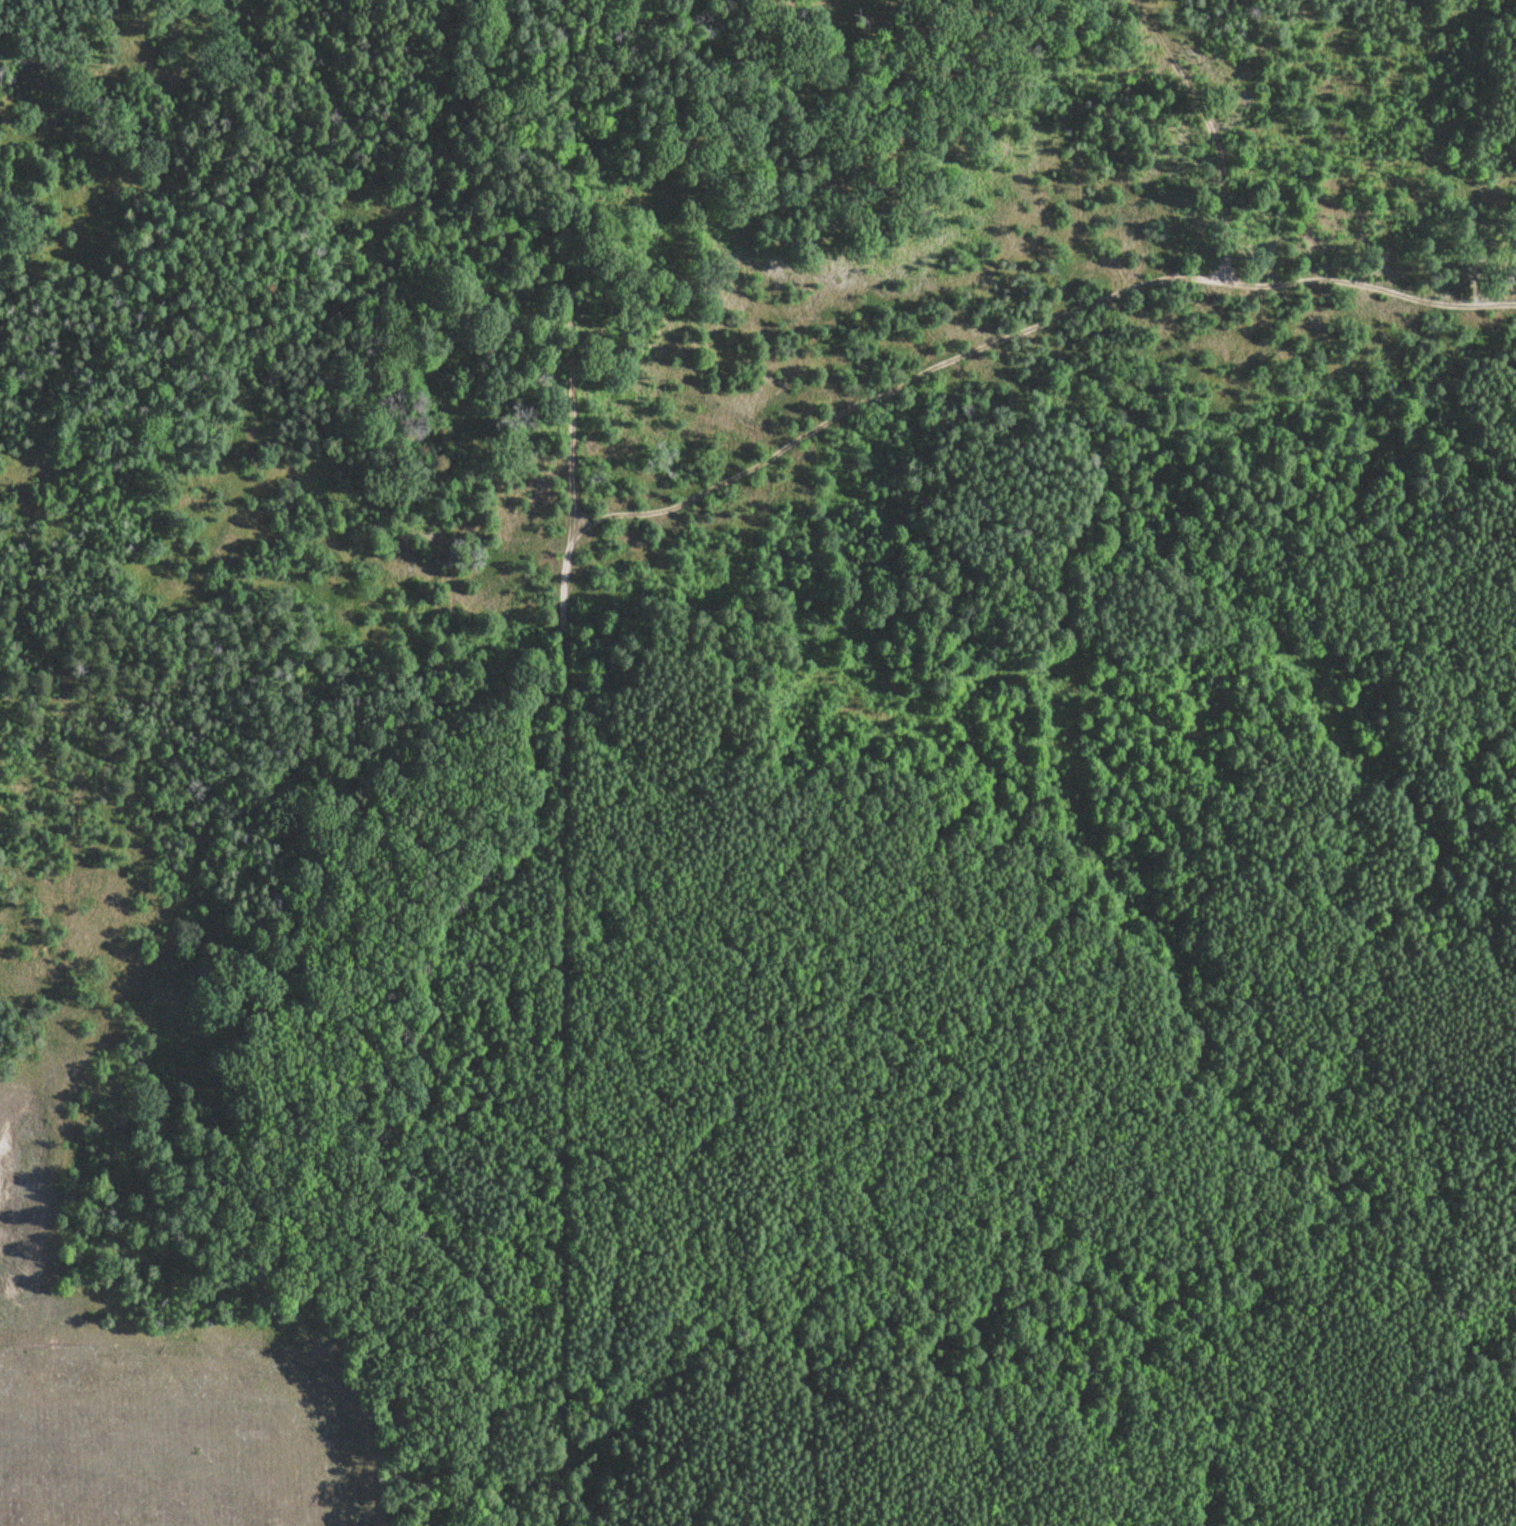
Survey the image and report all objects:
road: (1025, 331)
road: (566, 762)

